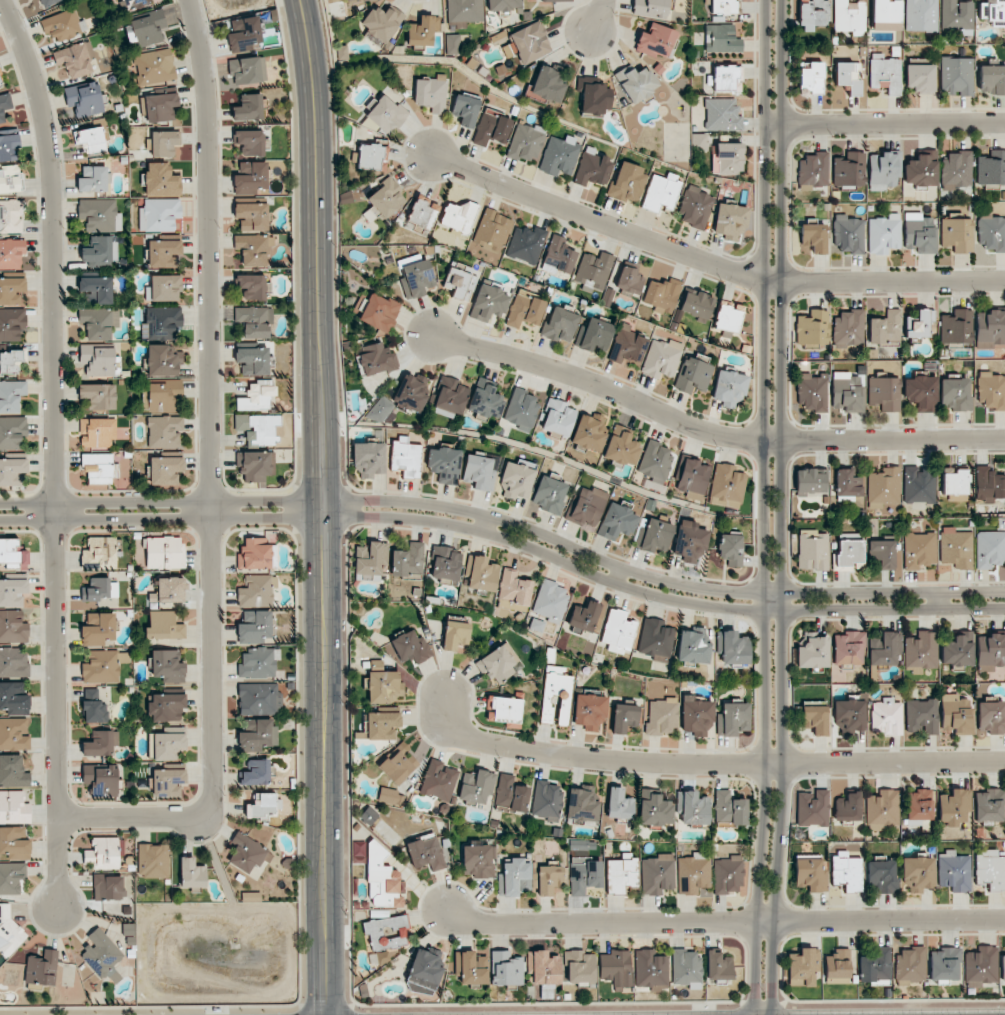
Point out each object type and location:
building: (351, 0)
building: (557, 0)
building: (48, 2)
building: (135, 3)
building: (503, 5)
building: (722, 6)
building: (650, 8)
building: (464, 11)
building: (993, 12)
building: (813, 14)
building: (885, 15)
building: (921, 15)
road: (595, 16)
building: (957, 16)
building: (849, 17)
building: (382, 24)
building: (236, 25)
building: (61, 26)
building: (148, 28)
building: (423, 31)
building: (245, 35)
building: (722, 39)
building: (655, 41)
building: (530, 42)
building: (453, 44)
building: (74, 60)
building: (154, 67)
building: (248, 70)
building: (886, 74)
building: (849, 76)
building: (957, 76)
building: (724, 78)
building: (920, 78)
building: (1, 79)
building: (811, 79)
building: (992, 79)
building: (636, 82)
building: (550, 83)
building: (431, 93)
building: (595, 97)
building: (84, 99)
building: (162, 108)
building: (248, 108)
building: (465, 109)
building: (722, 115)
road: (888, 124)
building: (492, 128)
building: (91, 139)
building: (250, 142)
building: (699, 142)
building: (164, 143)
building: (526, 143)
building: (9, 147)
building: (559, 155)
building: (372, 157)
building: (728, 158)
building: (593, 168)
building: (956, 168)
building: (992, 168)
building: (849, 169)
building: (813, 170)
building: (884, 170)
building: (922, 170)
building: (250, 177)
building: (11, 179)
building: (93, 179)
building: (161, 180)
building: (627, 182)
building: (661, 191)
building: (384, 200)
building: (695, 207)
building: (423, 212)
building: (159, 214)
building: (11, 215)
building: (99, 215)
building: (251, 216)
building: (459, 216)
building: (729, 221)
building: (493, 228)
building: (991, 232)
building: (920, 233)
building: (848, 234)
building: (884, 234)
building: (957, 234)
building: (813, 238)
building: (525, 244)
building: (253, 249)
building: (99, 252)
building: (11, 253)
building: (164, 254)
building: (559, 256)
road: (711, 265)
building: (593, 270)
building: (416, 279)
building: (629, 280)
building: (460, 281)
building: (252, 286)
building: (97, 288)
building: (165, 288)
building: (11, 290)
building: (661, 295)
building: (488, 301)
building: (696, 305)
building: (525, 310)
building: (380, 313)
building: (728, 316)
building: (254, 321)
building: (99, 322)
building: (12, 323)
building: (162, 323)
building: (919, 323)
building: (559, 324)
building: (957, 327)
building: (812, 328)
building: (990, 328)
building: (885, 329)
building: (848, 330)
building: (595, 335)
building: (627, 345)
building: (661, 358)
building: (376, 359)
building: (164, 360)
building: (253, 360)
building: (100, 361)
building: (10, 362)
building: (692, 375)
building: (729, 388)
building: (991, 390)
building: (411, 392)
building: (812, 392)
building: (847, 392)
building: (921, 392)
building: (884, 393)
building: (955, 394)
building: (11, 395)
building: (98, 395)
building: (163, 396)
building: (256, 396)
building: (451, 398)
building: (486, 400)
building: (380, 410)
building: (521, 410)
building: (558, 417)
building: (258, 428)
building: (164, 431)
building: (589, 431)
building: (12, 432)
building: (97, 432)
road: (712, 433)
road: (55, 448)
building: (622, 448)
building: (405, 457)
building: (369, 459)
building: (656, 462)
building: (256, 465)
building: (444, 465)
building: (98, 468)
building: (165, 470)
building: (12, 471)
building: (479, 472)
building: (693, 478)
road: (212, 480)
building: (516, 481)
building: (810, 481)
building: (955, 481)
building: (847, 485)
building: (919, 485)
building: (989, 485)
building: (727, 486)
building: (884, 487)
building: (549, 494)
road: (324, 506)
building: (587, 506)
road: (772, 507)
road: (507, 520)
building: (616, 522)
road: (488, 523)
road: (507, 535)
building: (655, 536)
building: (690, 543)
building: (956, 548)
building: (731, 549)
building: (990, 549)
building: (812, 550)
building: (920, 550)
building: (849, 552)
building: (100, 553)
building: (164, 553)
building: (882, 553)
building: (12, 554)
building: (257, 554)
building: (371, 559)
building: (408, 561)
building: (445, 563)
building: (482, 574)
road: (620, 575)
building: (100, 589)
building: (257, 591)
building: (514, 591)
building: (12, 592)
building: (550, 600)
road: (938, 600)
building: (584, 616)
building: (164, 626)
building: (13, 627)
building: (255, 627)
building: (98, 629)
building: (617, 631)
building: (455, 635)
building: (656, 639)
building: (411, 647)
building: (693, 647)
building: (734, 648)
building: (848, 648)
building: (884, 648)
building: (958, 650)
building: (921, 651)
building: (991, 651)
building: (813, 653)
building: (14, 663)
building: (259, 663)
building: (496, 664)
building: (104, 666)
building: (167, 666)
building: (385, 686)
building: (556, 695)
building: (14, 698)
building: (259, 699)
building: (94, 707)
building: (166, 707)
building: (503, 709)
building: (590, 711)
building: (849, 714)
building: (957, 714)
building: (697, 715)
building: (921, 716)
building: (624, 717)
building: (663, 717)
building: (886, 717)
building: (991, 717)
building: (734, 718)
building: (815, 718)
building: (250, 725)
building: (380, 725)
building: (14, 734)
building: (258, 737)
building: (100, 743)
building: (166, 745)
building: (397, 765)
road: (706, 766)
building: (13, 771)
building: (257, 772)
building: (101, 779)
building: (439, 780)
building: (168, 782)
building: (476, 786)
building: (510, 794)
building: (387, 795)
building: (547, 801)
building: (582, 804)
building: (619, 804)
building: (721, 804)
building: (261, 805)
building: (919, 805)
building: (989, 805)
building: (953, 806)
building: (13, 807)
building: (848, 807)
building: (812, 808)
building: (654, 809)
building: (694, 809)
building: (883, 809)
building: (738, 812)
building: (14, 842)
building: (358, 852)
building: (426, 852)
building: (104, 853)
building: (248, 853)
building: (153, 860)
building: (478, 861)
building: (583, 869)
building: (990, 869)
building: (847, 871)
building: (954, 871)
building: (810, 872)
building: (192, 873)
building: (621, 873)
building: (694, 873)
building: (657, 874)
building: (918, 874)
building: (728, 875)
building: (882, 876)
building: (11, 877)
building: (515, 878)
building: (549, 879)
building: (383, 880)
building: (108, 887)
building: (251, 897)
road: (725, 921)
building: (9, 932)
building: (387, 932)
building: (102, 956)
building: (874, 964)
building: (944, 964)
building: (804, 965)
building: (910, 965)
building: (718, 966)
building: (837, 966)
building: (981, 966)
building: (579, 967)
building: (42, 968)
building: (470, 968)
building: (543, 968)
building: (615, 968)
building: (686, 968)
building: (1003, 968)
building: (425, 969)
building: (505, 969)
building: (650, 970)

